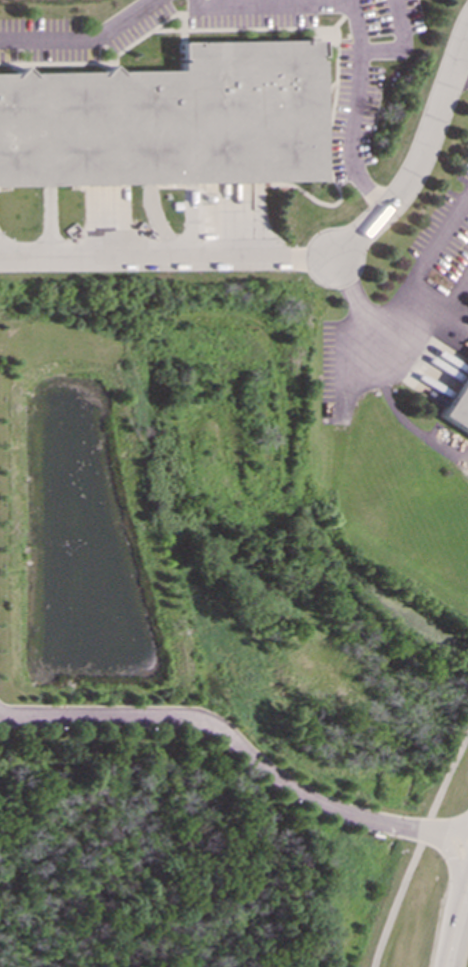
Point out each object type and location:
road: (270, 8)
road: (84, 41)
road: (399, 41)
road: (461, 73)
road: (356, 110)
building: (167, 120)
road: (421, 158)
road: (297, 261)
road: (429, 323)
building: (457, 405)
road: (242, 745)
road: (415, 848)
road: (457, 928)

